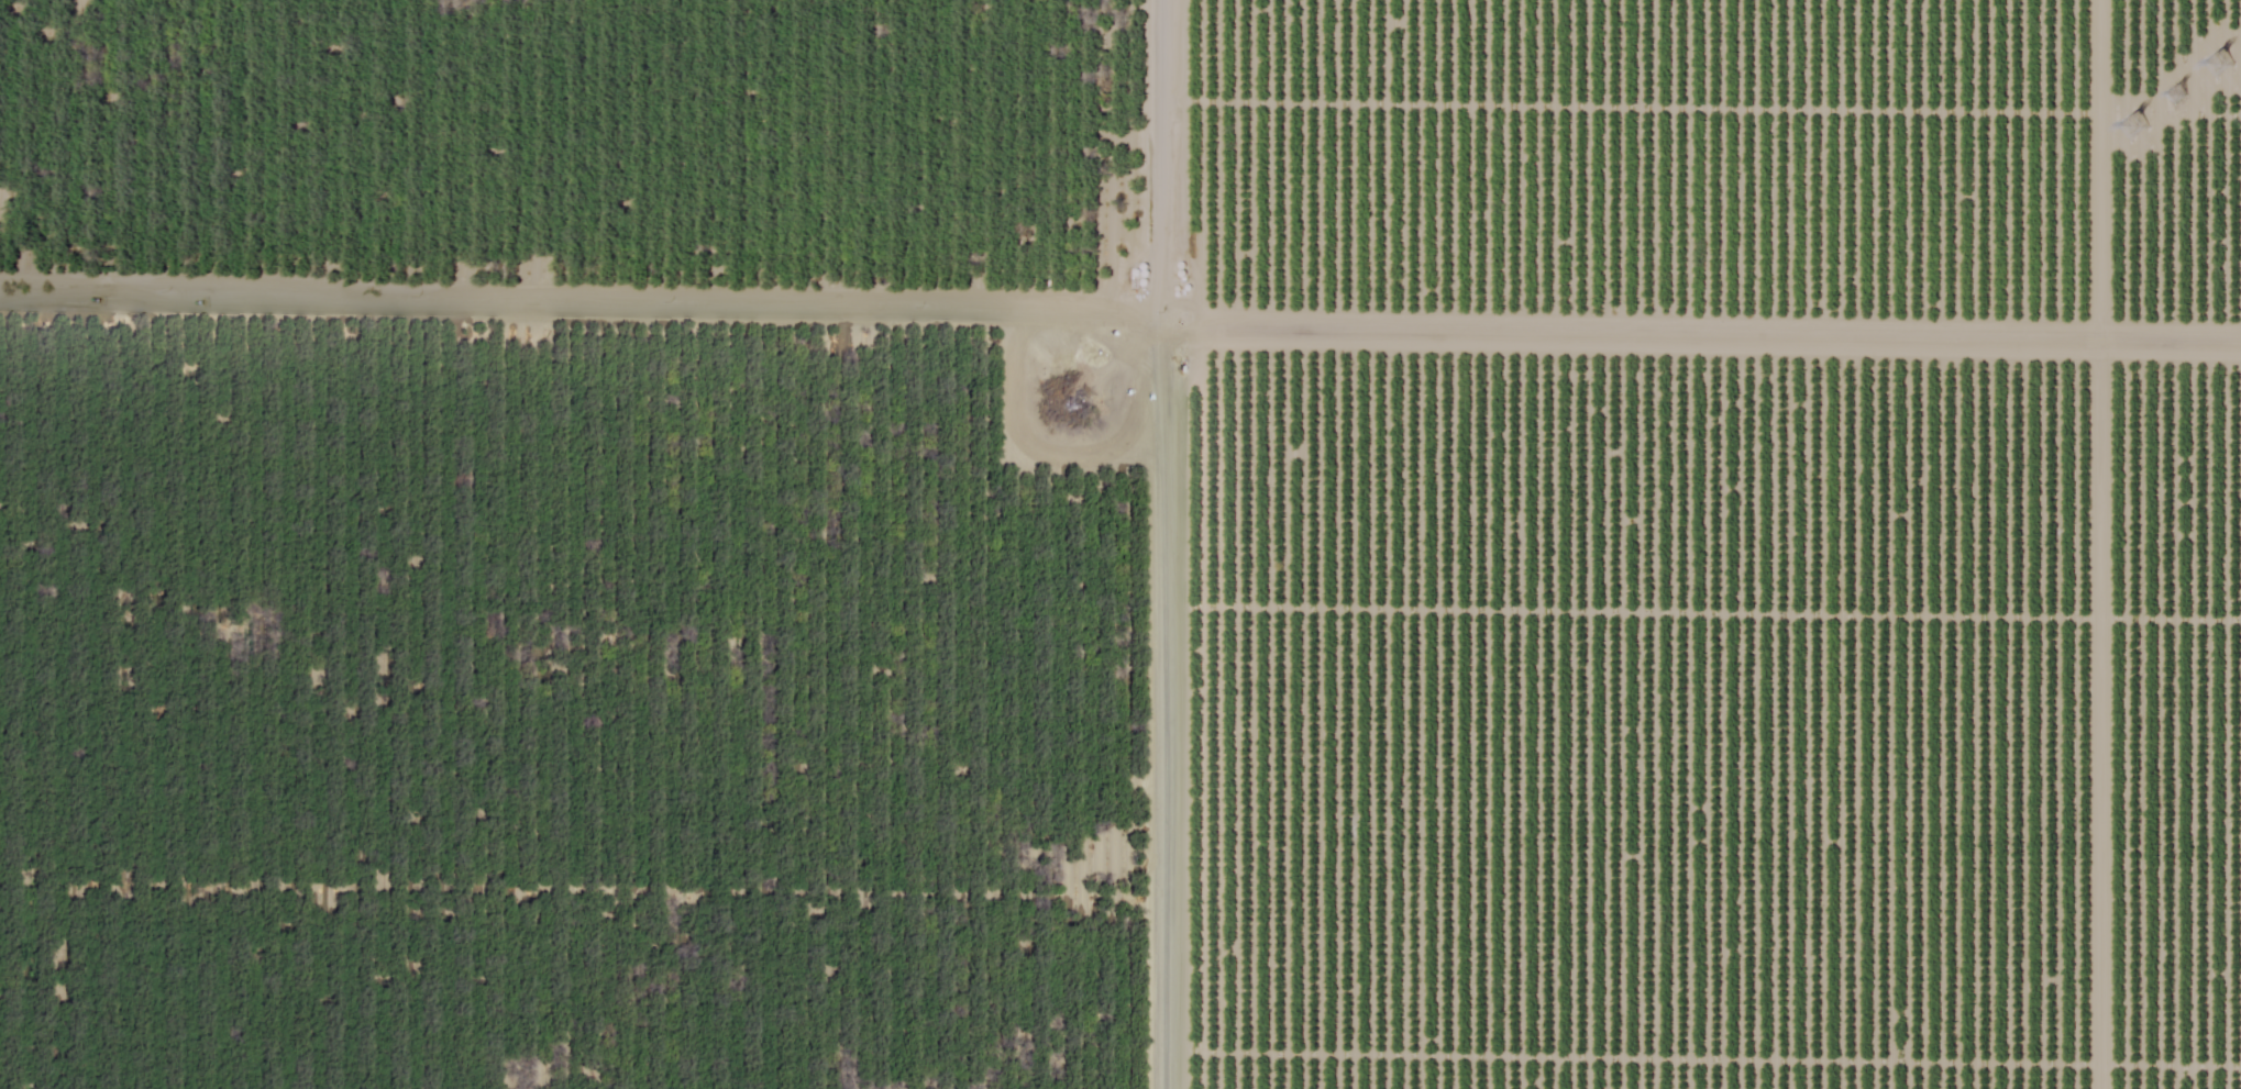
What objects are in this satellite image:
power tower: (2222, 69)
power tower: (2181, 93)
power tower: (2127, 119)

